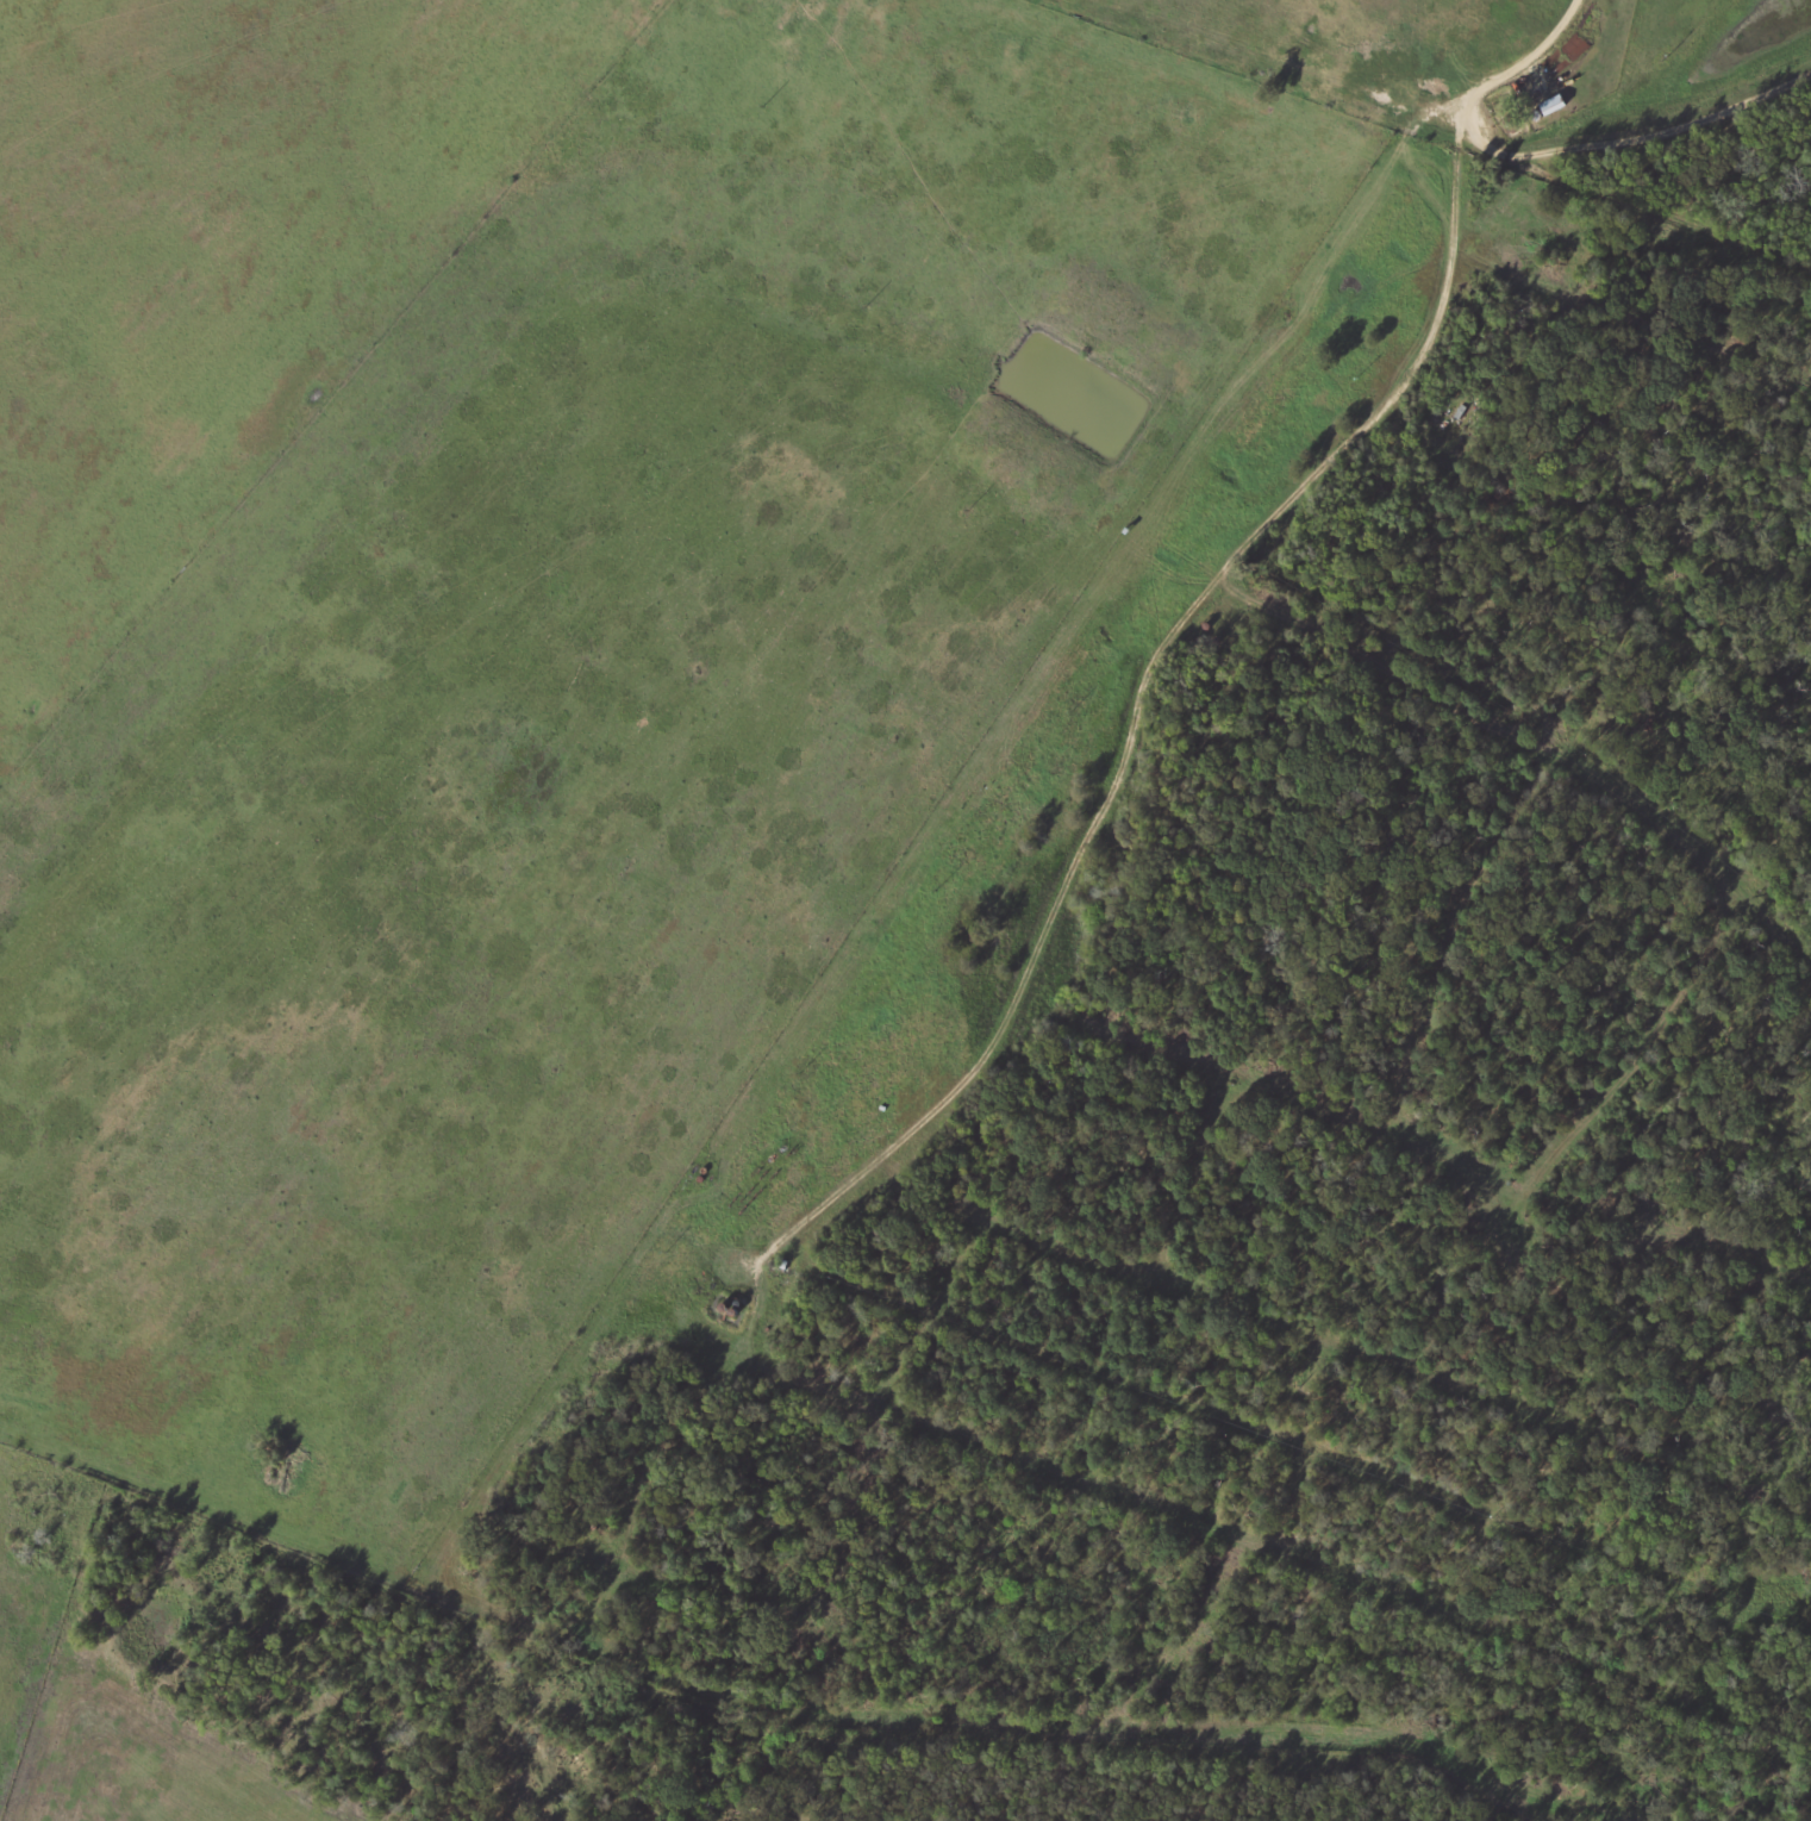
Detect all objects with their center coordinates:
road: (1551, 142)

